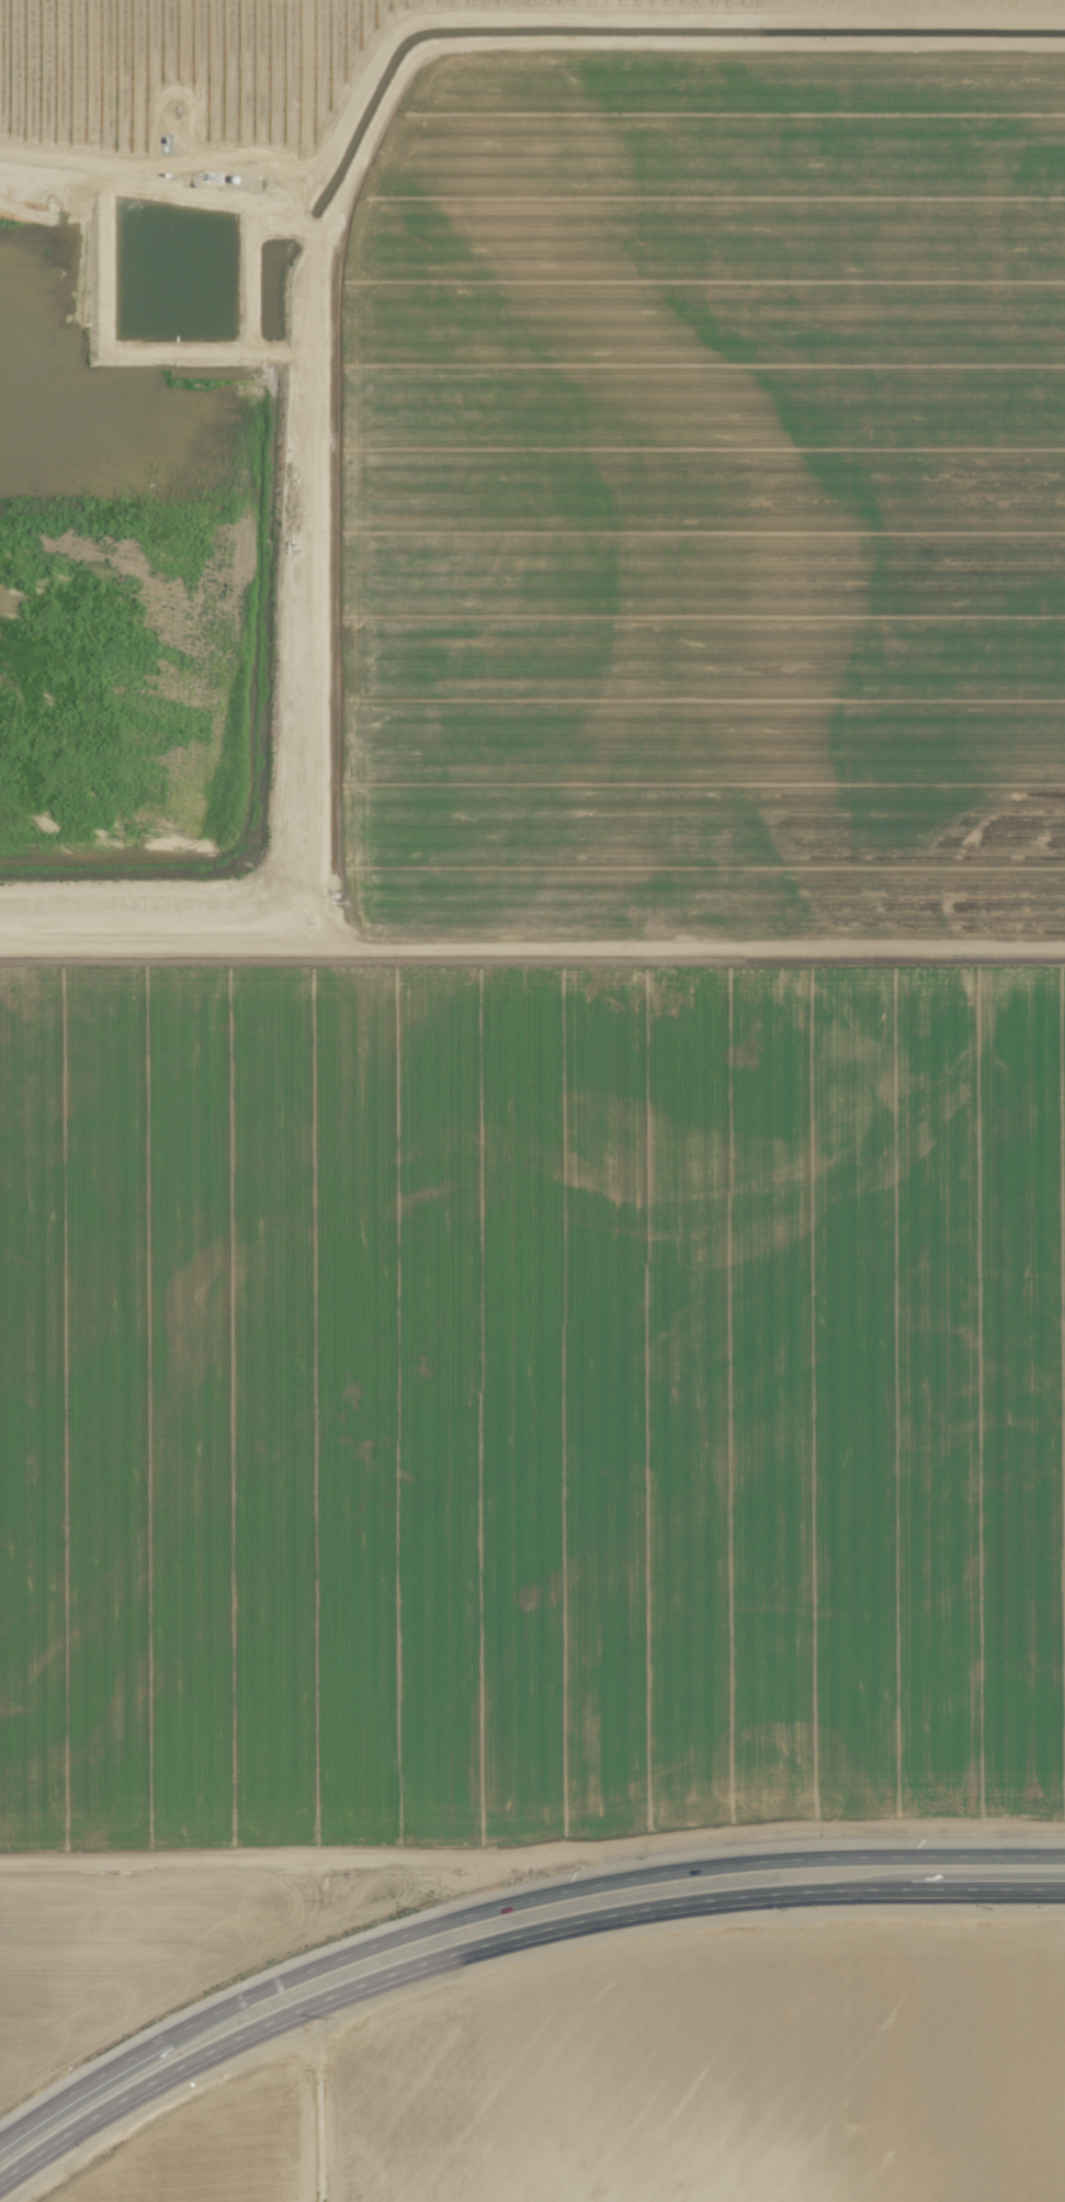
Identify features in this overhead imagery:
road: (506, 1906)
road: (505, 1939)

